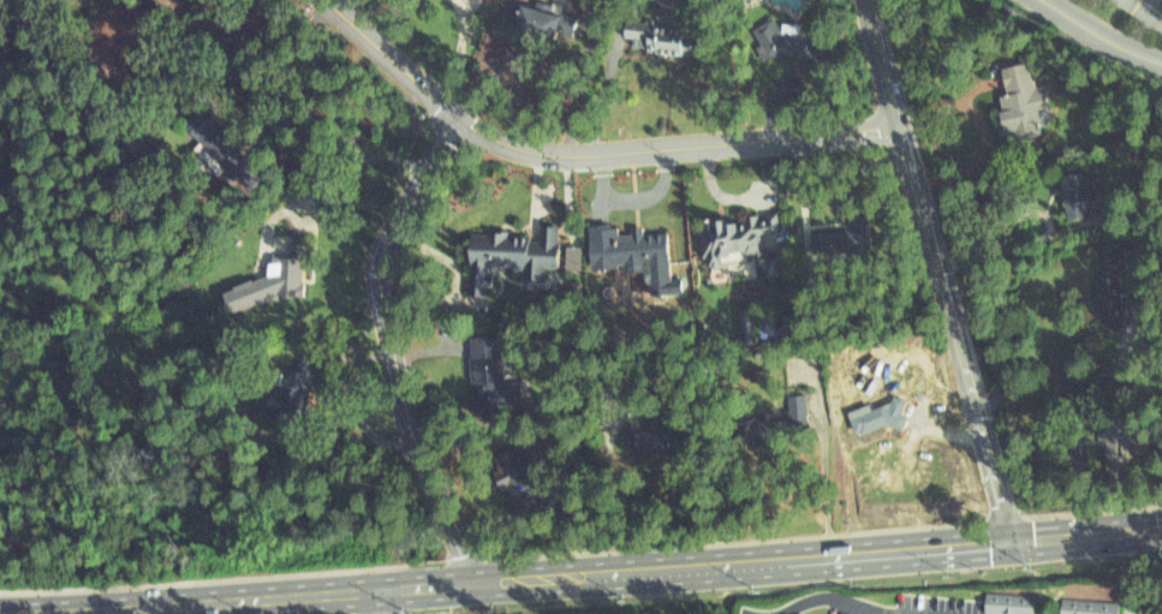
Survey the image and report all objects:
road: (1151, 4)
road: (1149, 7)
building: (543, 14)
building: (656, 32)
building: (775, 35)
road: (1101, 36)
road: (876, 62)
building: (1017, 99)
building: (214, 143)
road: (584, 155)
building: (1077, 192)
building: (836, 223)
building: (846, 237)
building: (735, 238)
building: (632, 244)
building: (506, 252)
building: (574, 258)
building: (266, 275)
building: (1107, 279)
dam: (157, 314)
building: (749, 320)
road: (949, 332)
road: (389, 345)
building: (483, 370)
building: (759, 374)
road: (1068, 385)
building: (281, 388)
dam: (105, 405)
building: (869, 407)
building: (765, 418)
building: (1108, 428)
building: (642, 430)
building: (652, 437)
building: (508, 467)
building: (552, 501)
traffic signals: (1007, 537)
road: (580, 572)
road: (376, 600)
road: (836, 600)
building: (1002, 600)
building: (1092, 602)
road: (749, 613)

